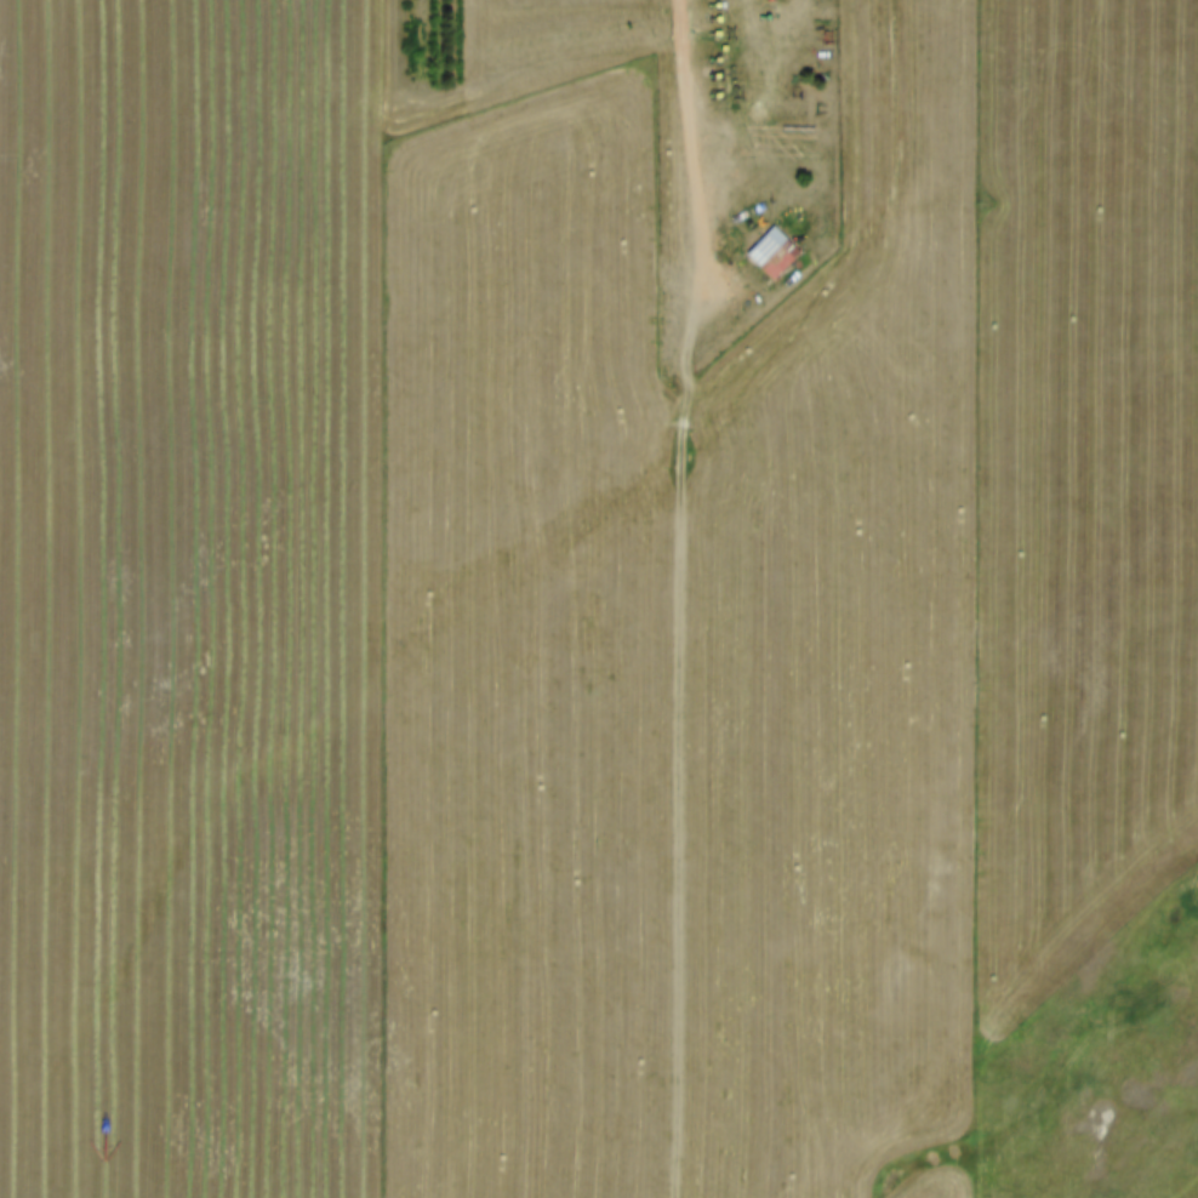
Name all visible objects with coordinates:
road: (691, 161)
building: (774, 243)

